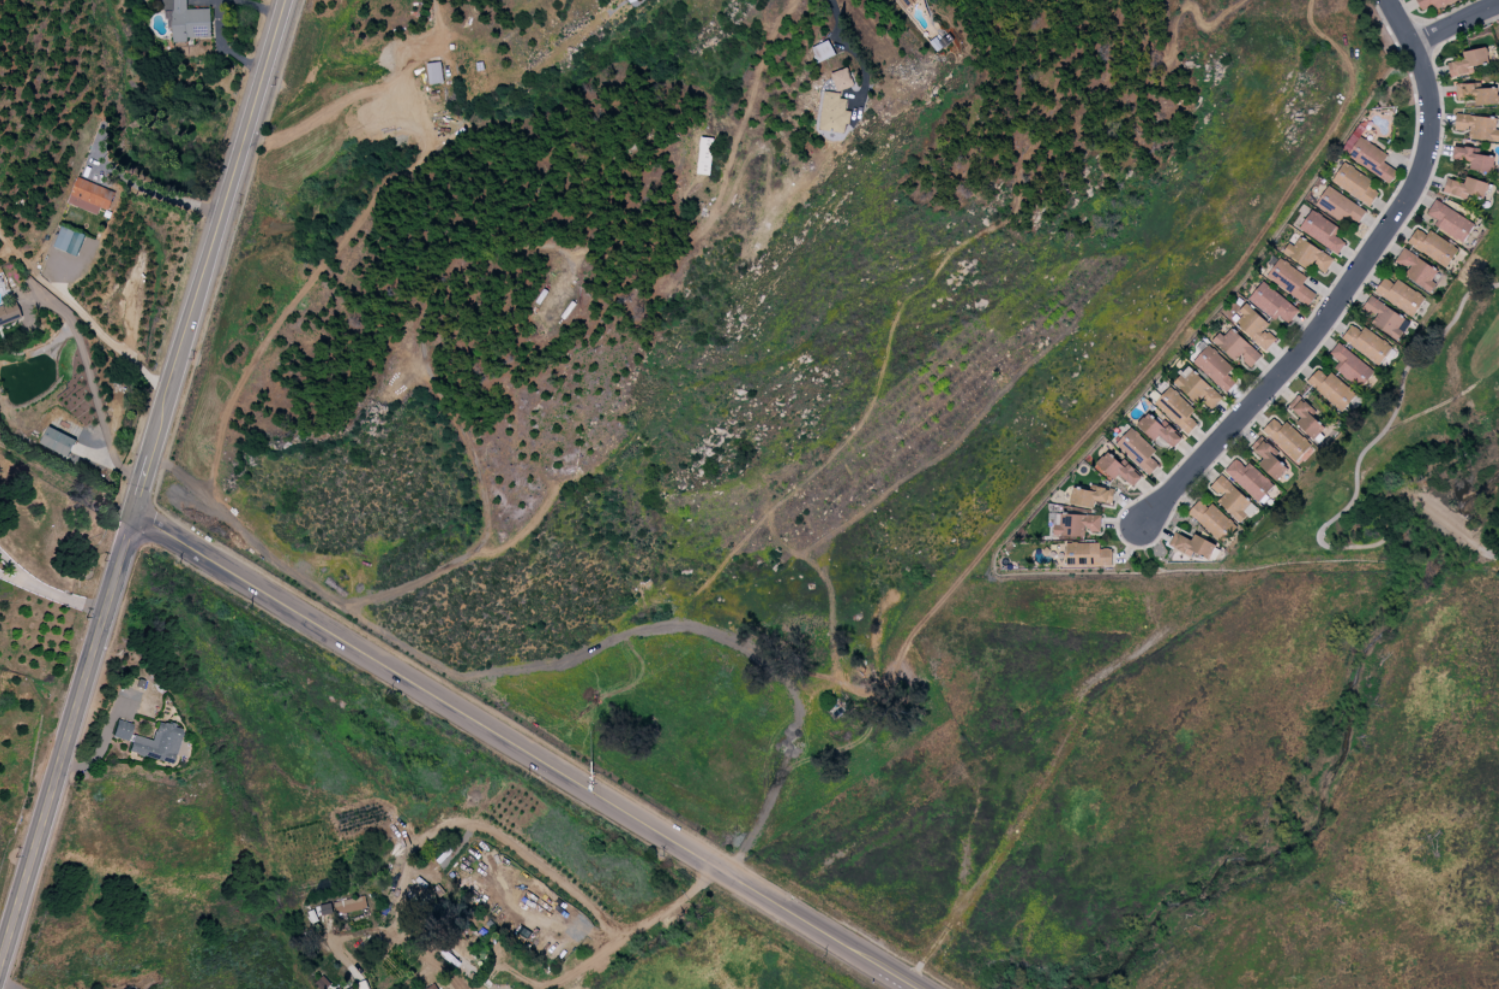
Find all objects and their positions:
building: (1430, 3)
park: (1494, 11)
building: (188, 20)
road: (1457, 25)
road: (846, 33)
building: (822, 50)
building: (1468, 61)
building: (435, 72)
building: (842, 79)
building: (1476, 94)
road: (364, 96)
building: (834, 113)
building: (1477, 126)
building: (704, 155)
building: (1473, 158)
building: (1370, 159)
building: (1354, 183)
building: (1466, 189)
road: (154, 192)
building: (90, 196)
building: (1339, 206)
building: (1450, 221)
building: (1322, 231)
building: (70, 241)
building: (1433, 246)
building: (1308, 255)
building: (1417, 269)
building: (1290, 281)
road: (1349, 285)
building: (1399, 295)
building: (1272, 302)
building: (9, 313)
building: (1383, 317)
building: (1254, 326)
road: (107, 331)
building: (1367, 343)
building: (1236, 347)
building: (1350, 366)
building: (1214, 368)
building: (1196, 388)
building: (1332, 389)
road: (93, 390)
building: (1176, 409)
building: (1305, 416)
building: (1157, 428)
building: (1286, 438)
building: (58, 441)
park: (1409, 443)
building: (1137, 450)
building: (1268, 458)
building: (1118, 468)
building: (1249, 479)
road: (142, 480)
building: (1091, 496)
building: (1231, 499)
building: (1212, 520)
building: (1077, 524)
building: (1191, 545)
building: (1087, 554)
road: (17, 570)
road: (15, 581)
road: (66, 598)
road: (490, 730)
building: (120, 731)
building: (156, 744)
road: (102, 745)
road: (449, 828)
building: (344, 906)
road: (632, 928)
road: (864, 958)
road: (893, 976)
road: (904, 986)
road: (910, 986)
building: (348, 987)
building: (432, 987)

